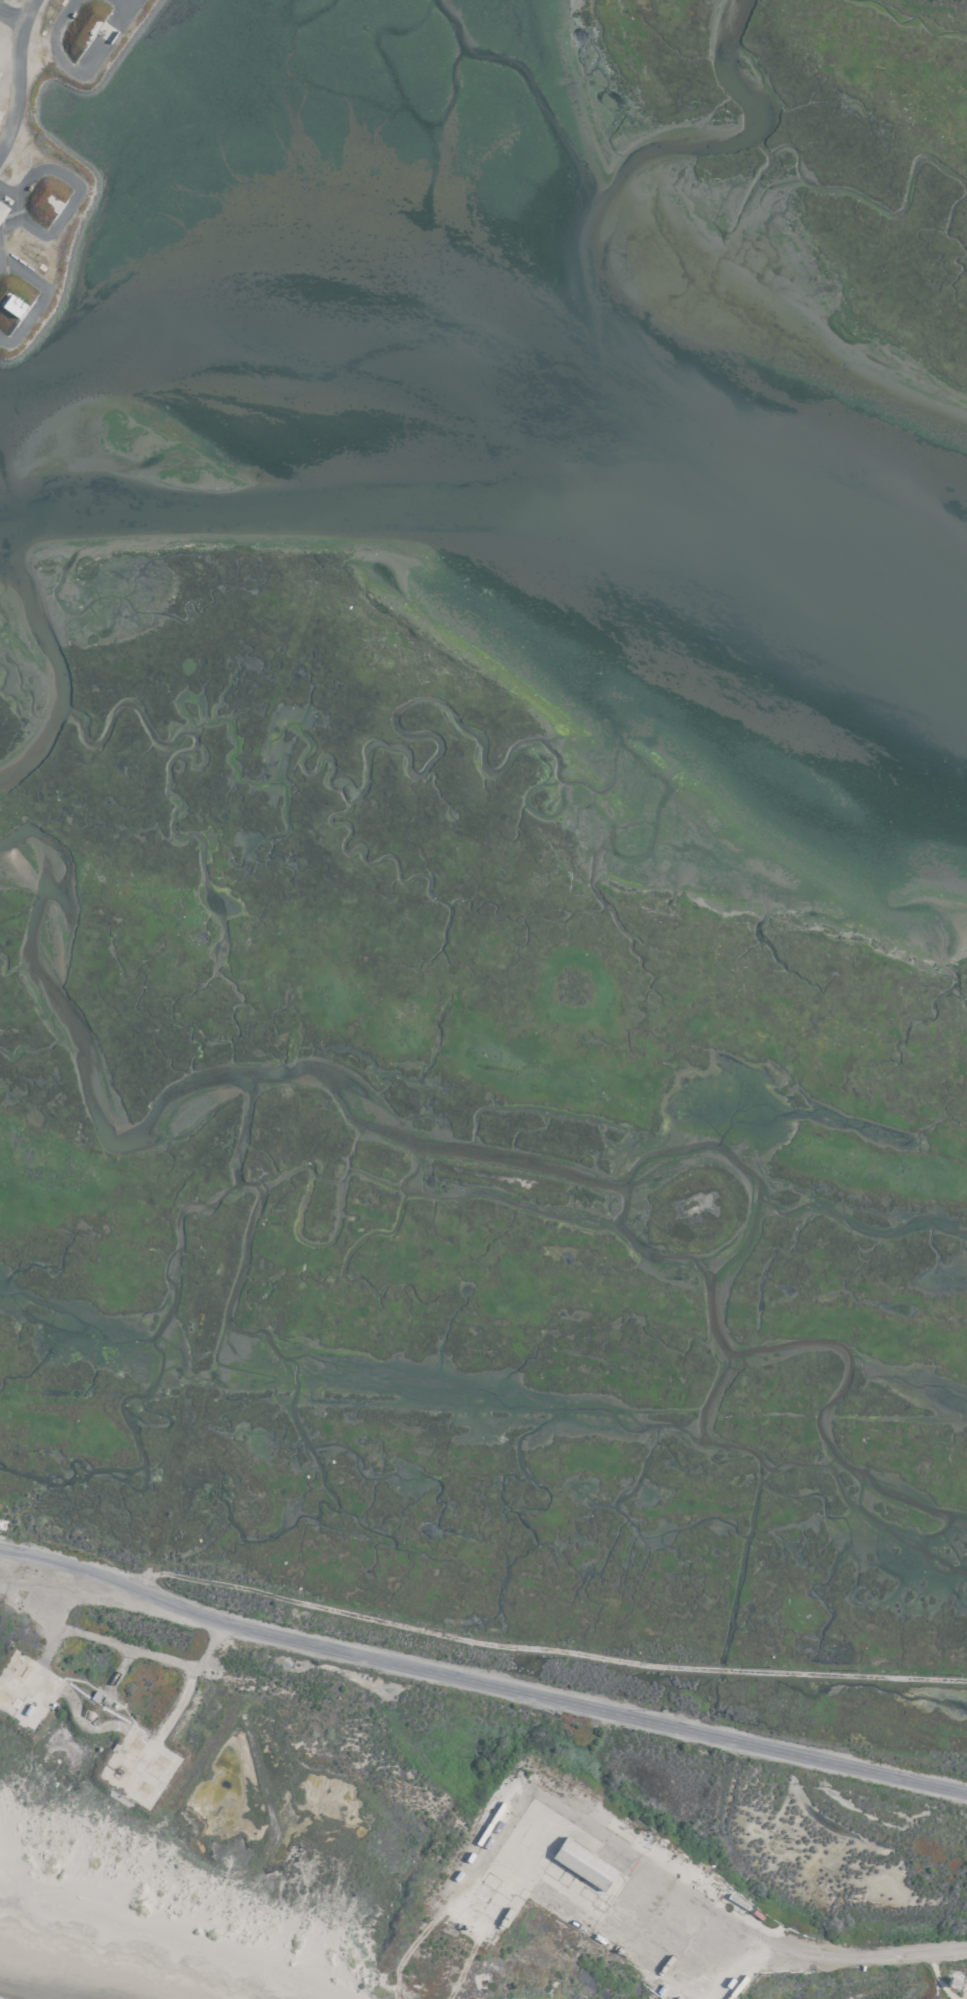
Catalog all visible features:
road: (124, 4)
road: (9, 20)
road: (16, 72)
road: (77, 72)
building: (2, 209)
road: (39, 297)
building: (12, 306)
airport: (483, 999)
road: (247, 1173)
road: (141, 1582)
road: (530, 1648)
road: (230, 1681)
road: (479, 1683)
building: (582, 1863)
road: (800, 1949)

